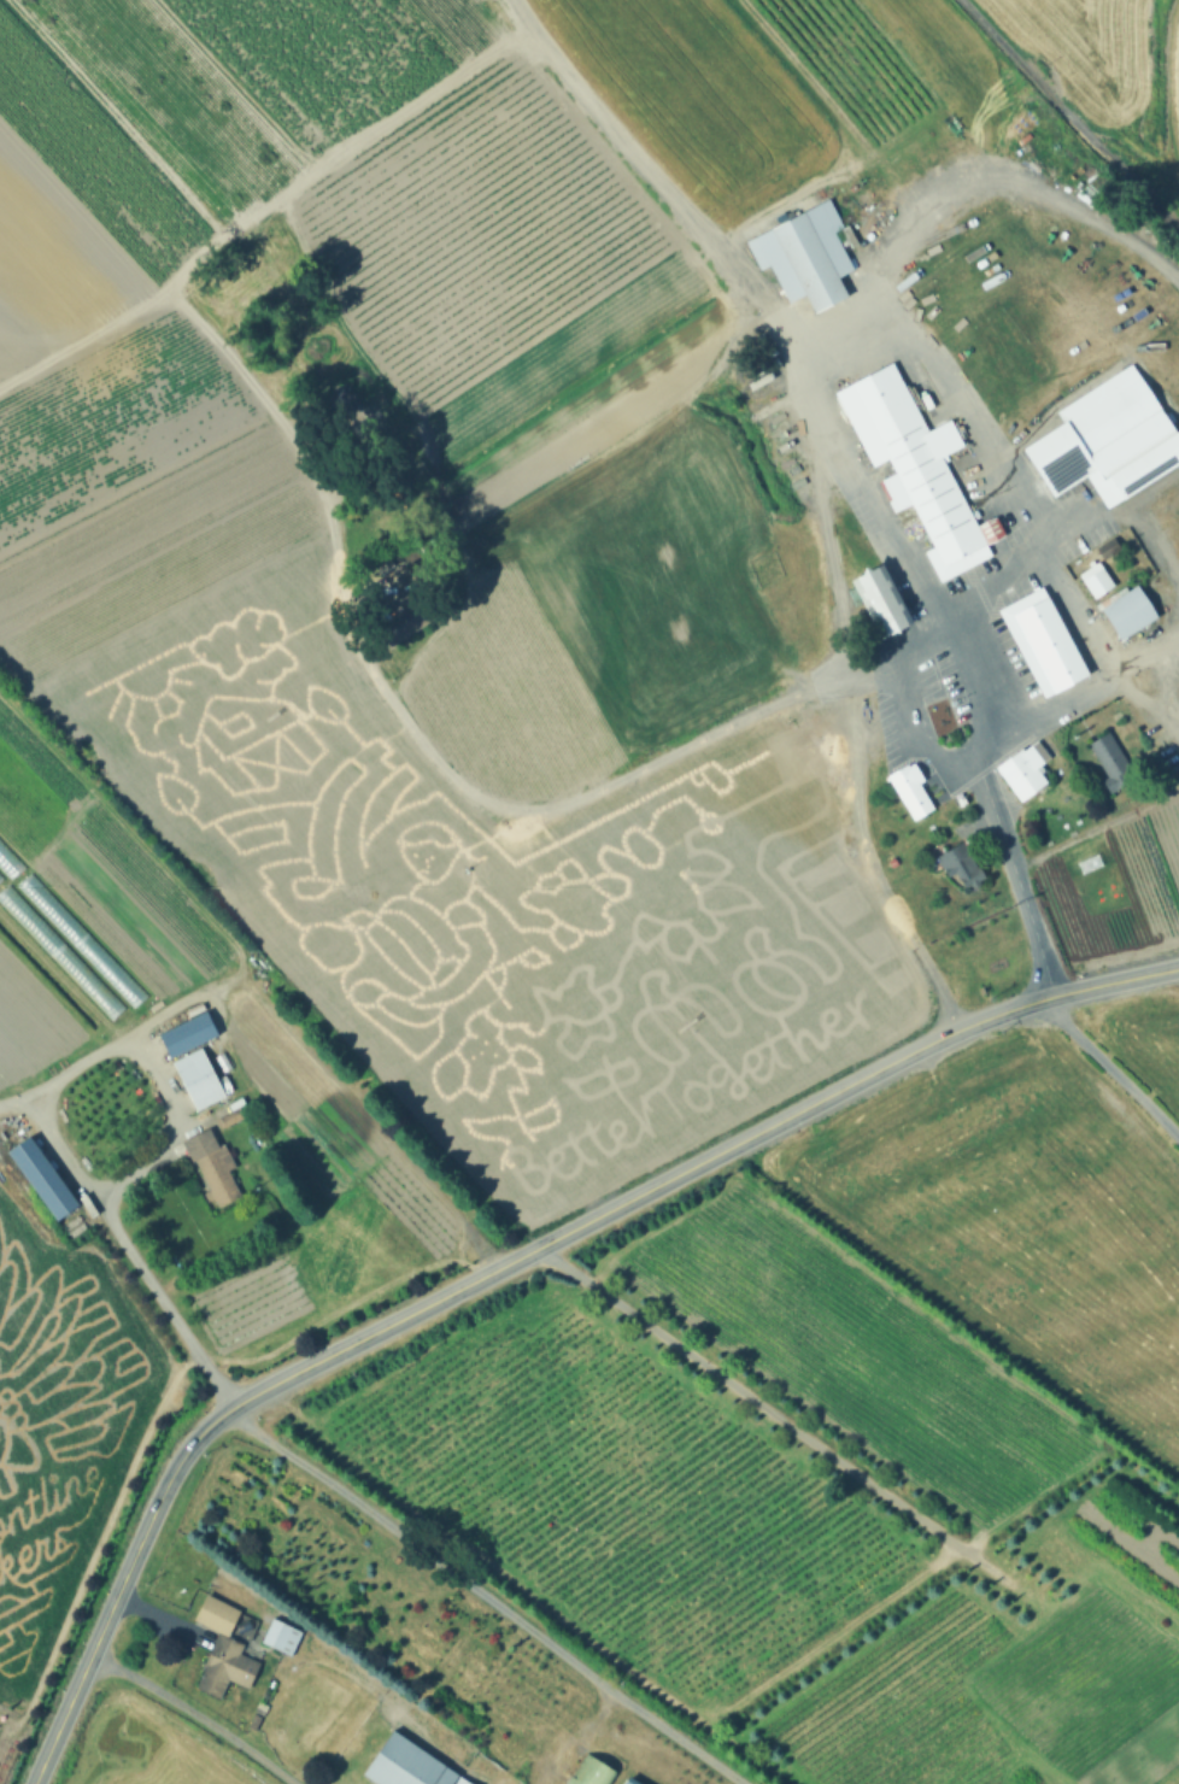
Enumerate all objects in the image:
road: (532, 22)
crop: (1109, 69)
road: (433, 106)
road: (1068, 119)
road: (996, 170)
building: (804, 253)
crop: (358, 317)
road: (888, 319)
building: (1108, 445)
building: (915, 466)
road: (1116, 511)
building: (1105, 546)
road: (1155, 548)
building: (1093, 577)
building: (882, 599)
road: (1074, 606)
building: (1126, 610)
building: (401, 621)
parking lot: (962, 624)
building: (1043, 640)
road: (1085, 686)
road: (1145, 700)
road: (410, 723)
building: (798, 752)
building: (1109, 761)
road: (951, 767)
building: (1020, 773)
building: (908, 792)
road: (863, 845)
building: (961, 862)
building: (29, 884)
road: (1015, 885)
crop: (494, 894)
building: (190, 1034)
road: (107, 1051)
building: (225, 1063)
road: (1113, 1068)
building: (201, 1079)
building: (234, 1117)
road: (63, 1160)
road: (703, 1160)
building: (215, 1169)
building: (43, 1178)
road: (110, 1211)
road: (774, 1414)
crop: (846, 1425)
crop: (59, 1426)
road: (196, 1438)
road: (488, 1596)
building: (282, 1637)
road: (98, 1638)
building: (225, 1648)
road: (199, 1713)
building: (5, 1724)
building: (411, 1764)
building: (591, 1772)
building: (629, 1780)

